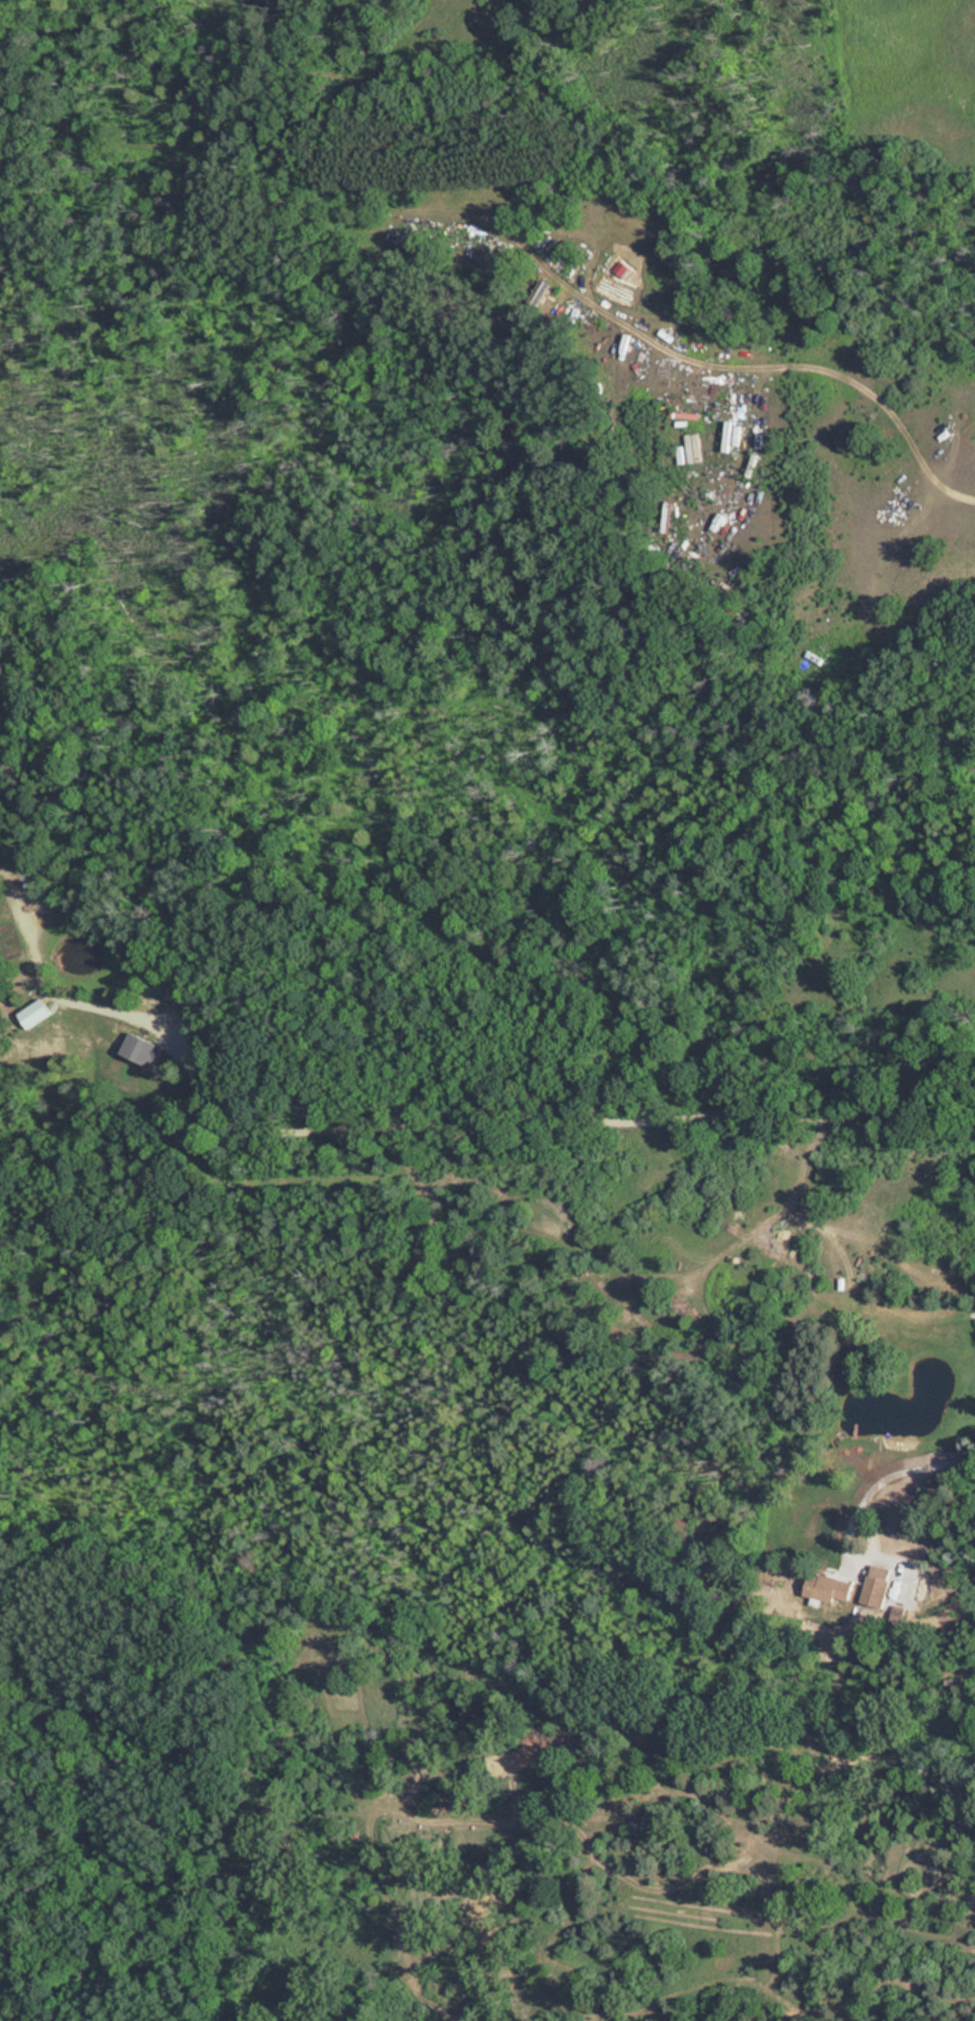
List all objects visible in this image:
building: (541, 293)
building: (37, 1013)
building: (142, 1048)
road: (906, 1473)
building: (876, 1585)
building: (830, 1588)
road: (588, 1835)

